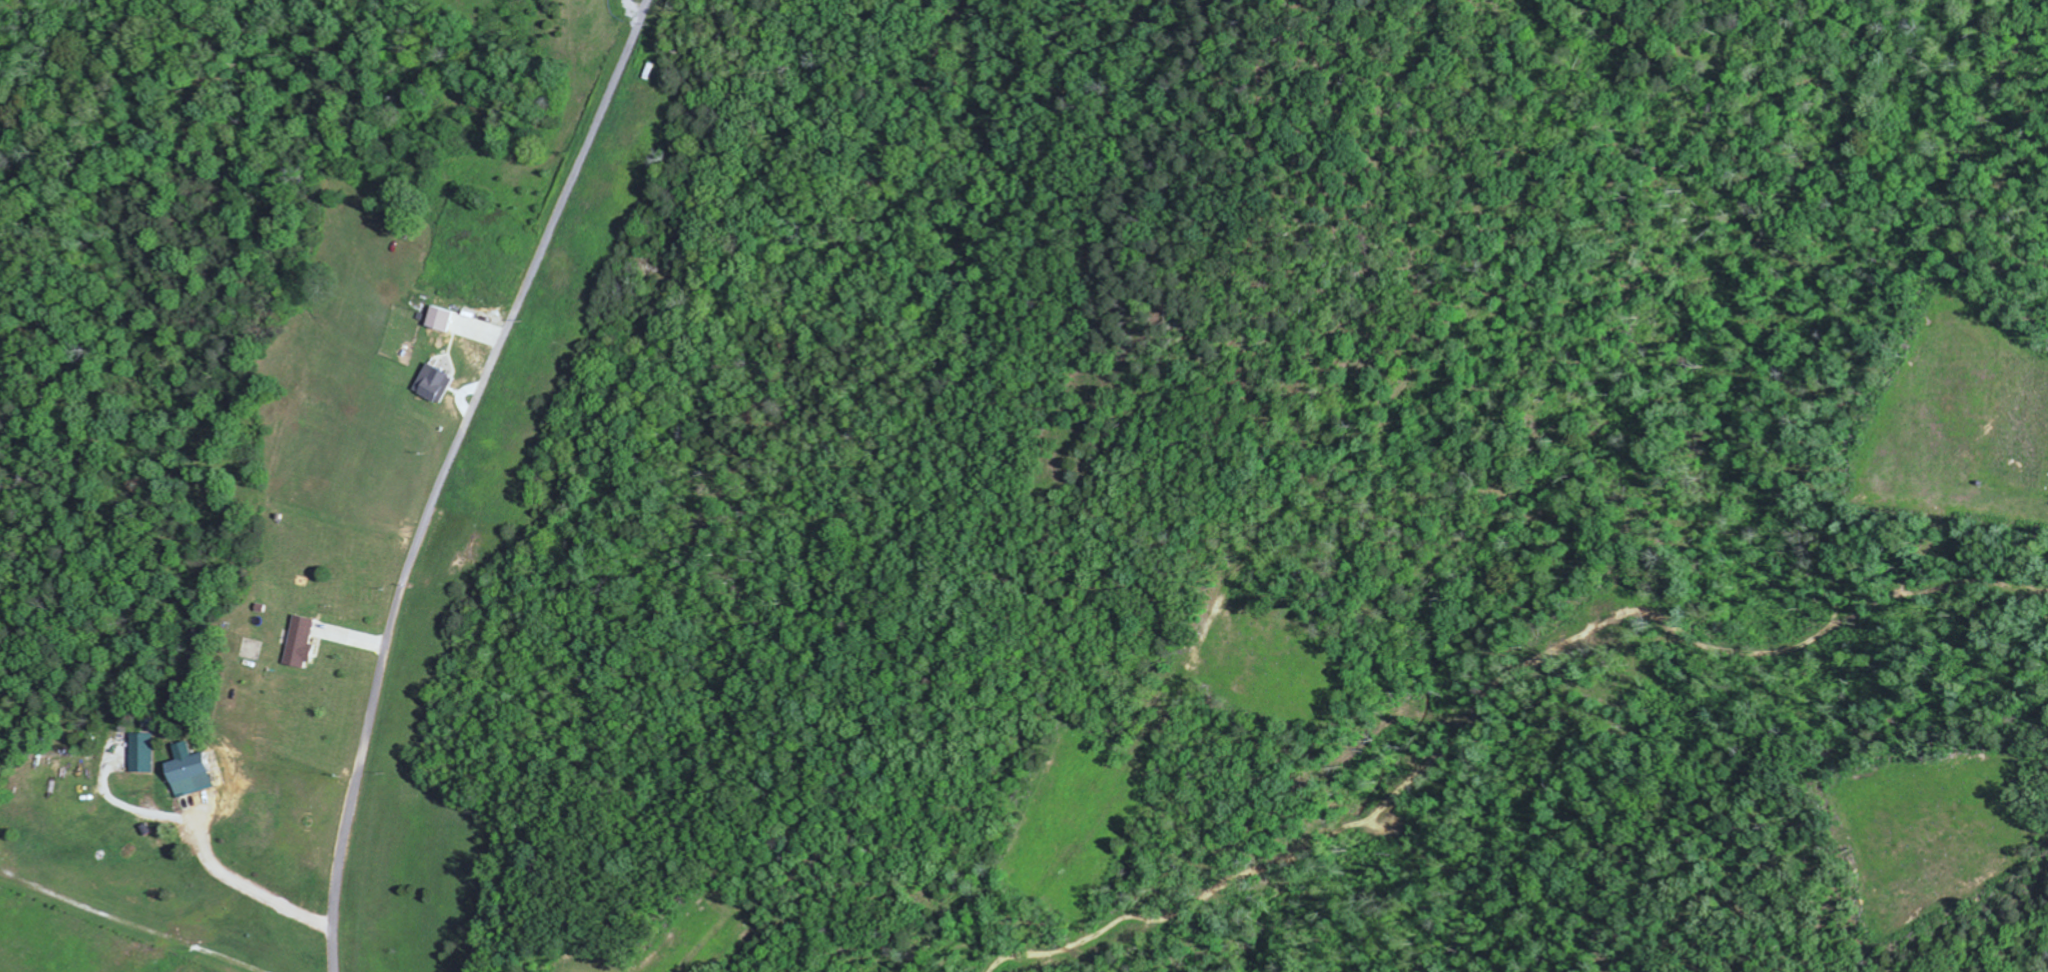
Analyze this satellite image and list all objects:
building: (446, 317)
building: (439, 383)
road: (445, 472)
building: (308, 642)
building: (146, 752)
building: (196, 771)

